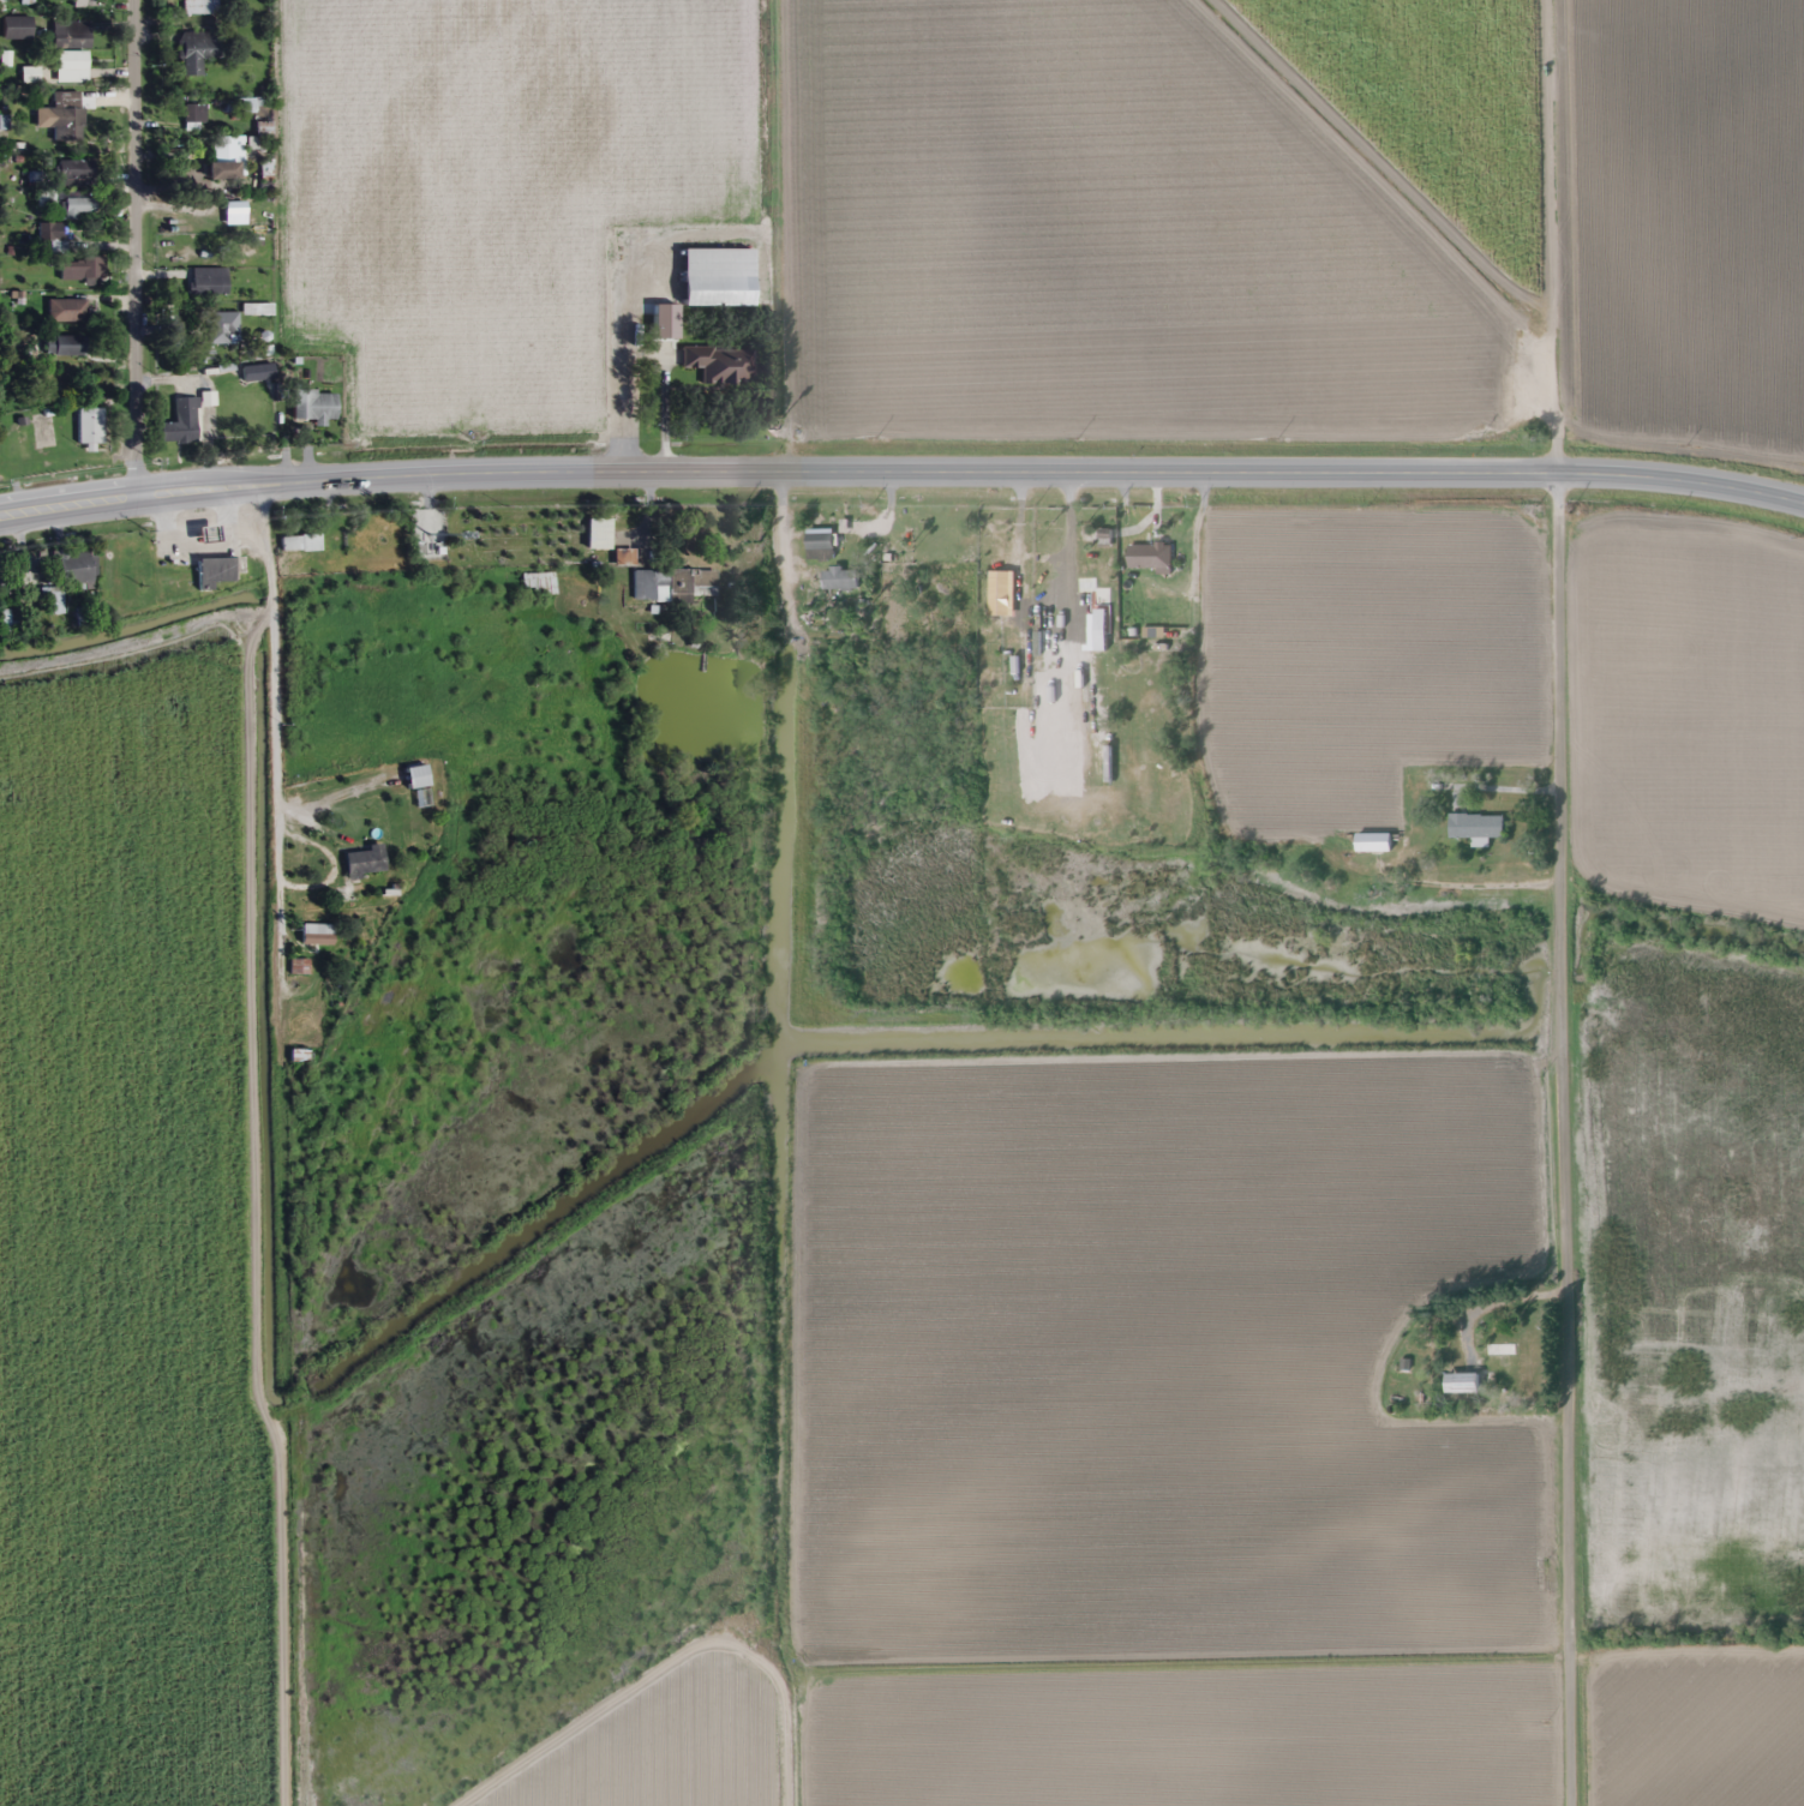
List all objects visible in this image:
building: (28, 1)
building: (80, 4)
building: (200, 7)
building: (18, 28)
building: (71, 35)
building: (197, 52)
building: (72, 61)
building: (30, 74)
building: (66, 116)
building: (194, 116)
building: (227, 146)
building: (74, 170)
building: (222, 170)
building: (80, 208)
building: (235, 212)
building: (62, 241)
road: (137, 246)
building: (82, 269)
building: (717, 277)
building: (209, 281)
building: (673, 305)
building: (222, 326)
building: (666, 335)
building: (65, 346)
building: (719, 365)
building: (314, 406)
building: (181, 424)
building: (90, 426)
road: (901, 474)
building: (206, 534)
building: (598, 534)
building: (300, 542)
building: (820, 545)
building: (1147, 557)
building: (624, 558)
building: (77, 568)
building: (214, 572)
building: (839, 580)
building: (1048, 583)
building: (539, 584)
building: (672, 586)
building: (428, 800)
building: (1475, 827)
building: (1373, 844)
building: (366, 864)
road: (1556, 902)
building: (317, 935)
building: (300, 967)
building: (298, 1055)
building: (1499, 1360)
building: (1462, 1384)

